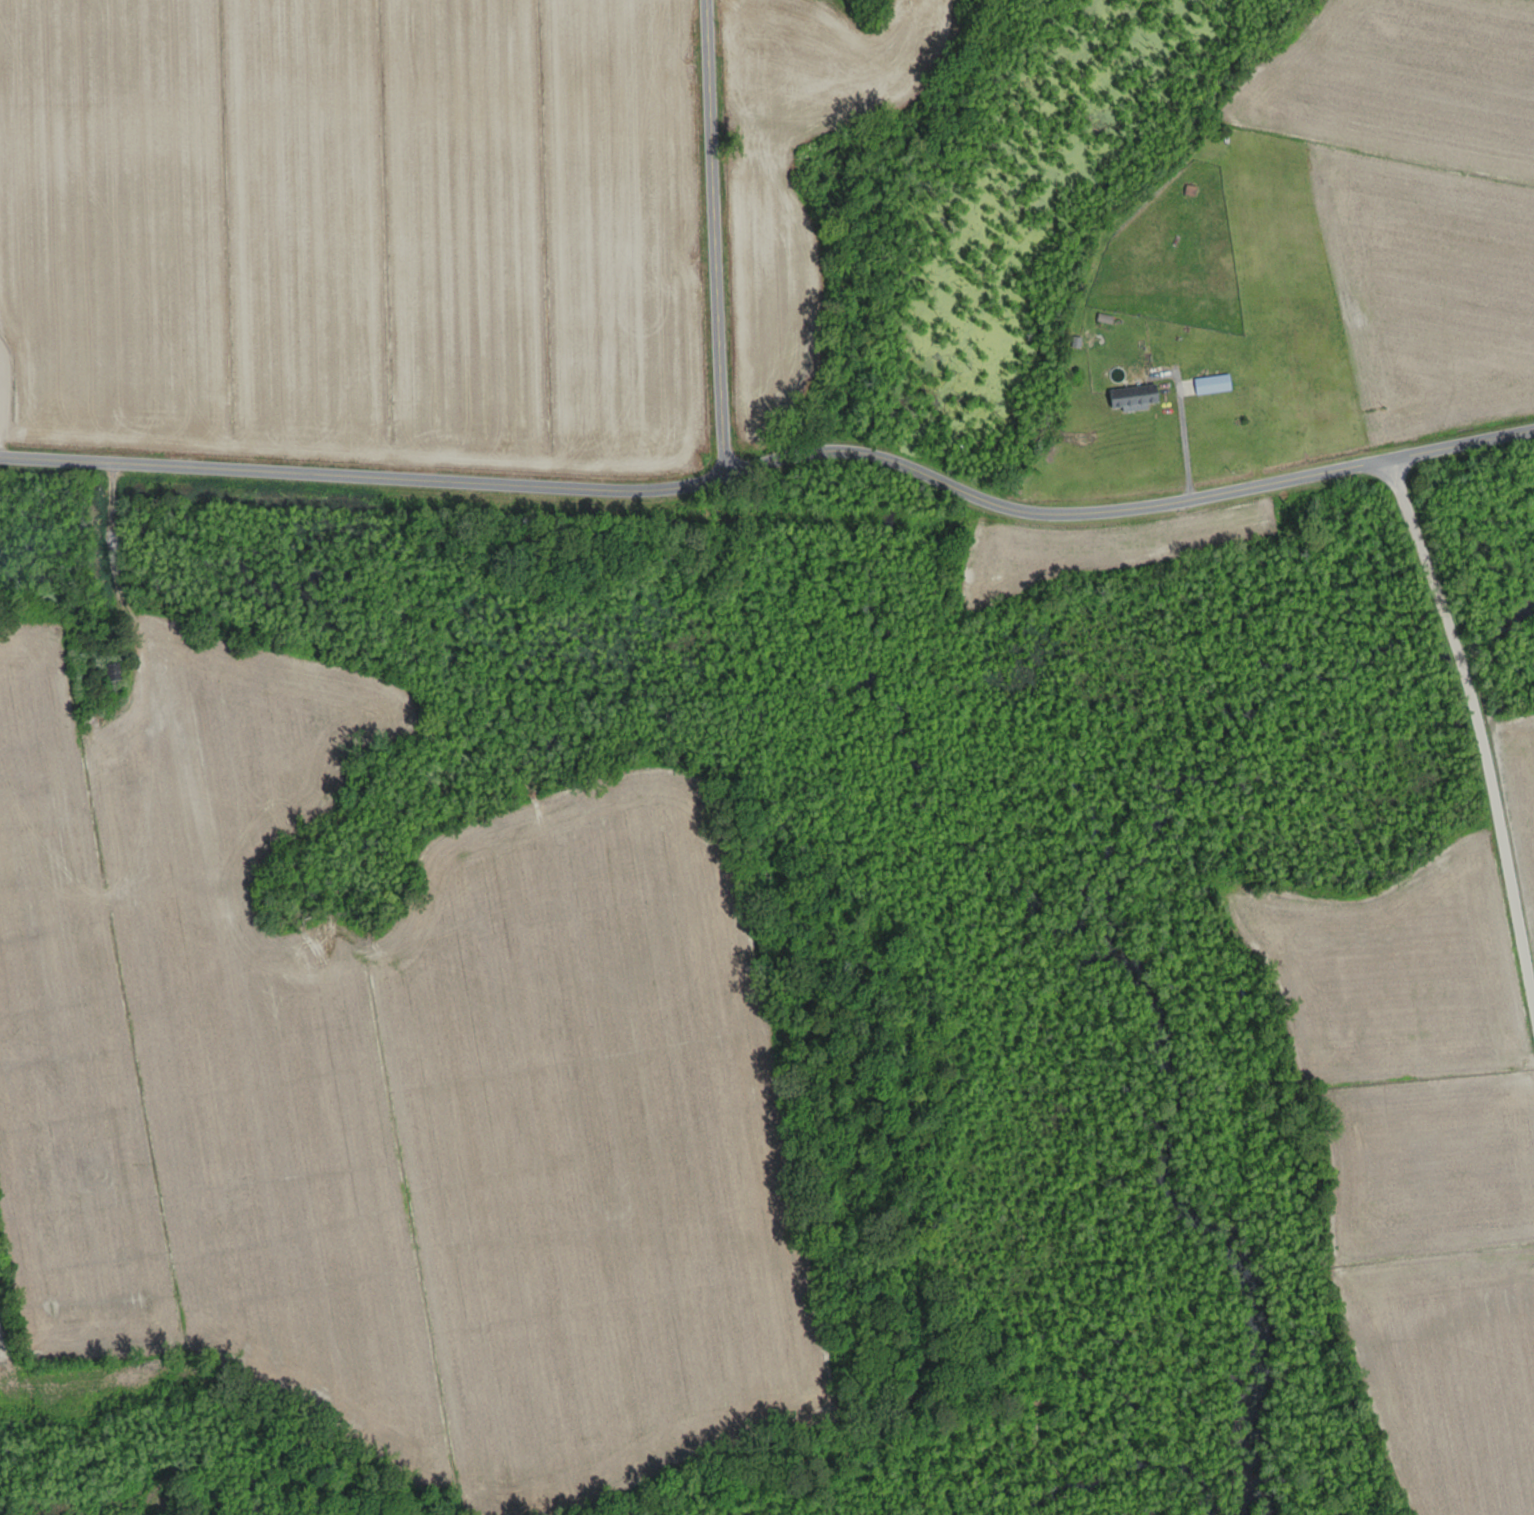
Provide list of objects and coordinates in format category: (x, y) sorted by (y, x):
road: (710, 242)
building: (1209, 383)
building: (1131, 396)
road: (1181, 448)
road: (775, 470)
building: (111, 680)
road: (1475, 765)

